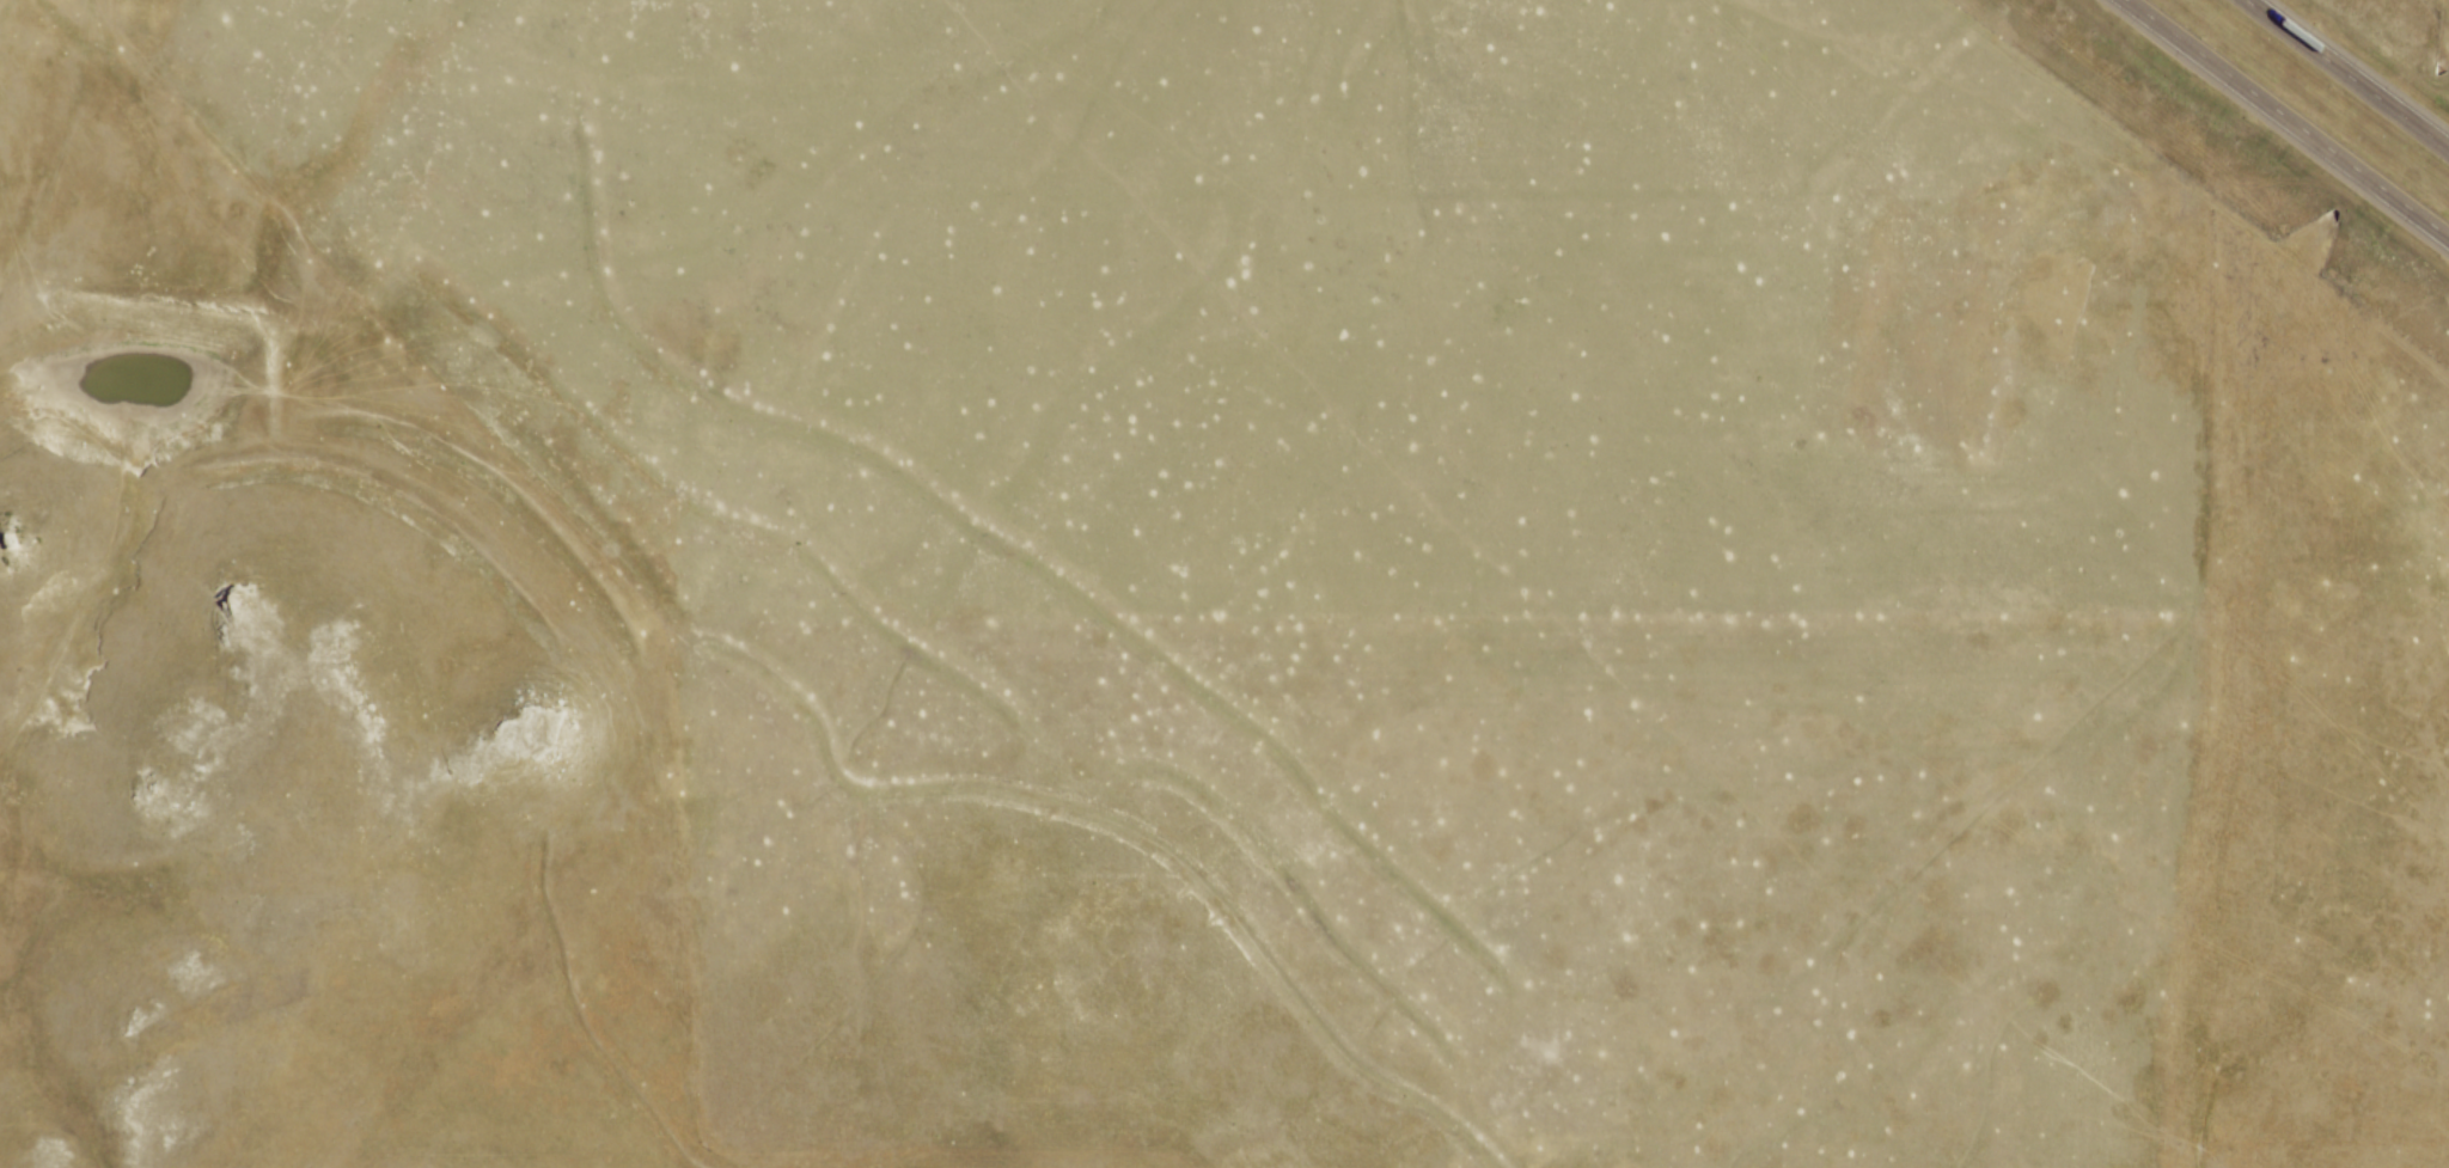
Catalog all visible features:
road: (2347, 74)
road: (2290, 117)

